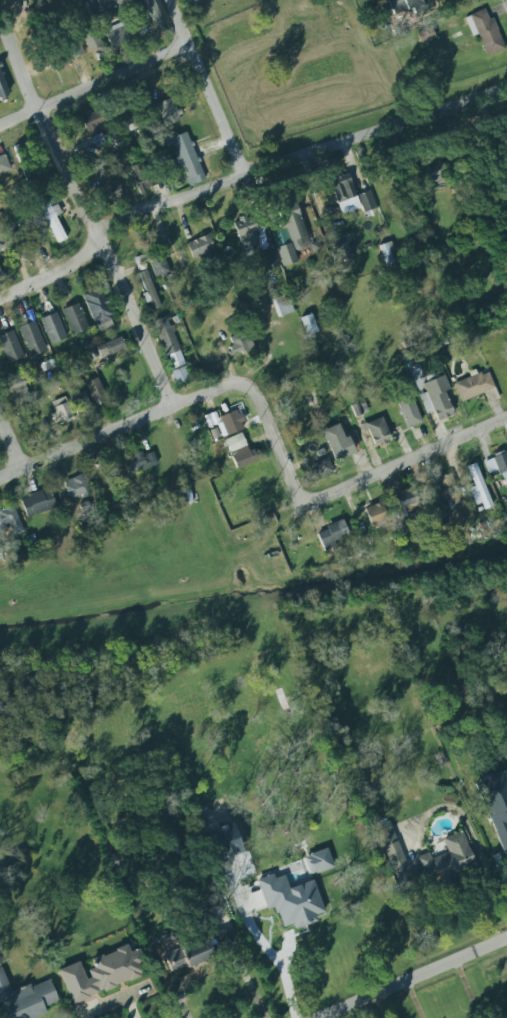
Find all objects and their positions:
building: (407, 5)
building: (109, 6)
building: (153, 13)
building: (485, 32)
building: (121, 35)
building: (426, 35)
building: (90, 38)
building: (72, 51)
road: (93, 83)
road: (206, 86)
building: (2, 90)
building: (168, 111)
building: (94, 121)
building: (185, 157)
building: (26, 161)
building: (3, 164)
building: (118, 168)
building: (433, 172)
road: (241, 175)
building: (143, 177)
building: (113, 191)
building: (343, 193)
building: (366, 201)
road: (81, 211)
building: (52, 216)
building: (246, 232)
building: (289, 233)
building: (17, 246)
building: (201, 248)
building: (341, 248)
building: (386, 252)
building: (158, 266)
building: (0, 276)
building: (147, 290)
building: (282, 305)
building: (98, 310)
building: (73, 318)
building: (308, 324)
building: (52, 327)
building: (30, 338)
building: (168, 342)
building: (240, 343)
building: (9, 346)
building: (110, 347)
building: (181, 374)
building: (472, 385)
building: (93, 389)
building: (19, 392)
building: (436, 398)
building: (80, 403)
building: (407, 410)
building: (61, 411)
building: (231, 422)
road: (121, 426)
building: (377, 431)
building: (336, 442)
road: (10, 444)
building: (240, 451)
road: (426, 452)
building: (139, 462)
building: (497, 465)
building: (323, 468)
road: (283, 469)
building: (76, 487)
building: (477, 488)
building: (447, 491)
building: (37, 502)
building: (405, 504)
building: (375, 514)
building: (438, 518)
building: (9, 521)
building: (331, 535)
building: (496, 804)
road: (486, 826)
building: (394, 856)
building: (446, 861)
building: (318, 862)
building: (290, 899)
building: (219, 941)
building: (188, 956)
road: (219, 964)
building: (99, 973)
road: (286, 978)
road: (413, 978)
road: (466, 989)
building: (25, 999)
road: (414, 1000)
road: (130, 1006)
road: (371, 1008)

